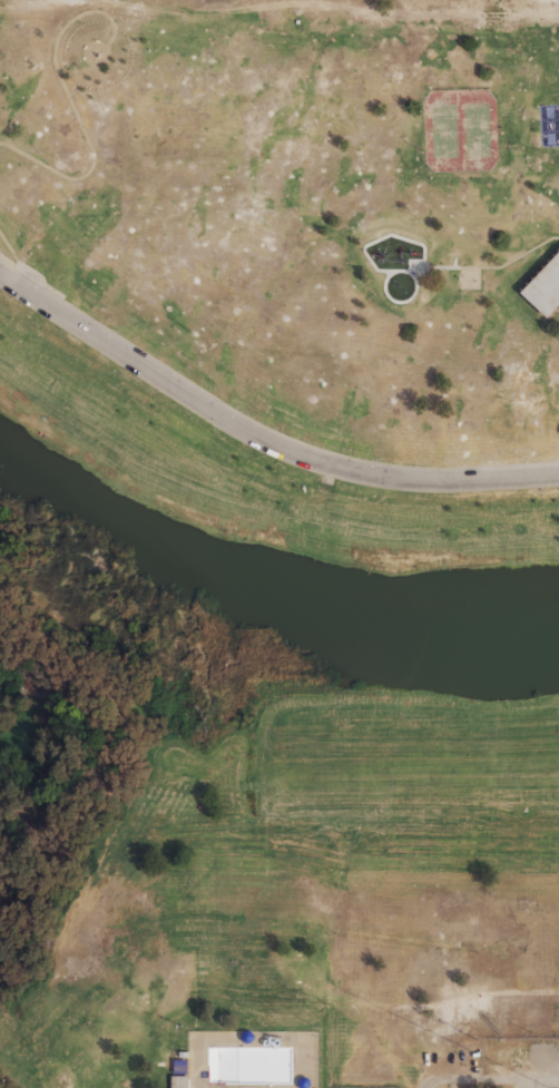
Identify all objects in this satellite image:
road: (88, 49)
road: (70, 104)
park: (478, 129)
park: (445, 130)
park: (461, 130)
road: (14, 256)
park: (469, 277)
building: (543, 285)
road: (258, 438)
park: (265, 513)
river: (259, 592)
road: (438, 1003)
road: (449, 1077)
building: (179, 1080)
parking lot: (144, 1087)

